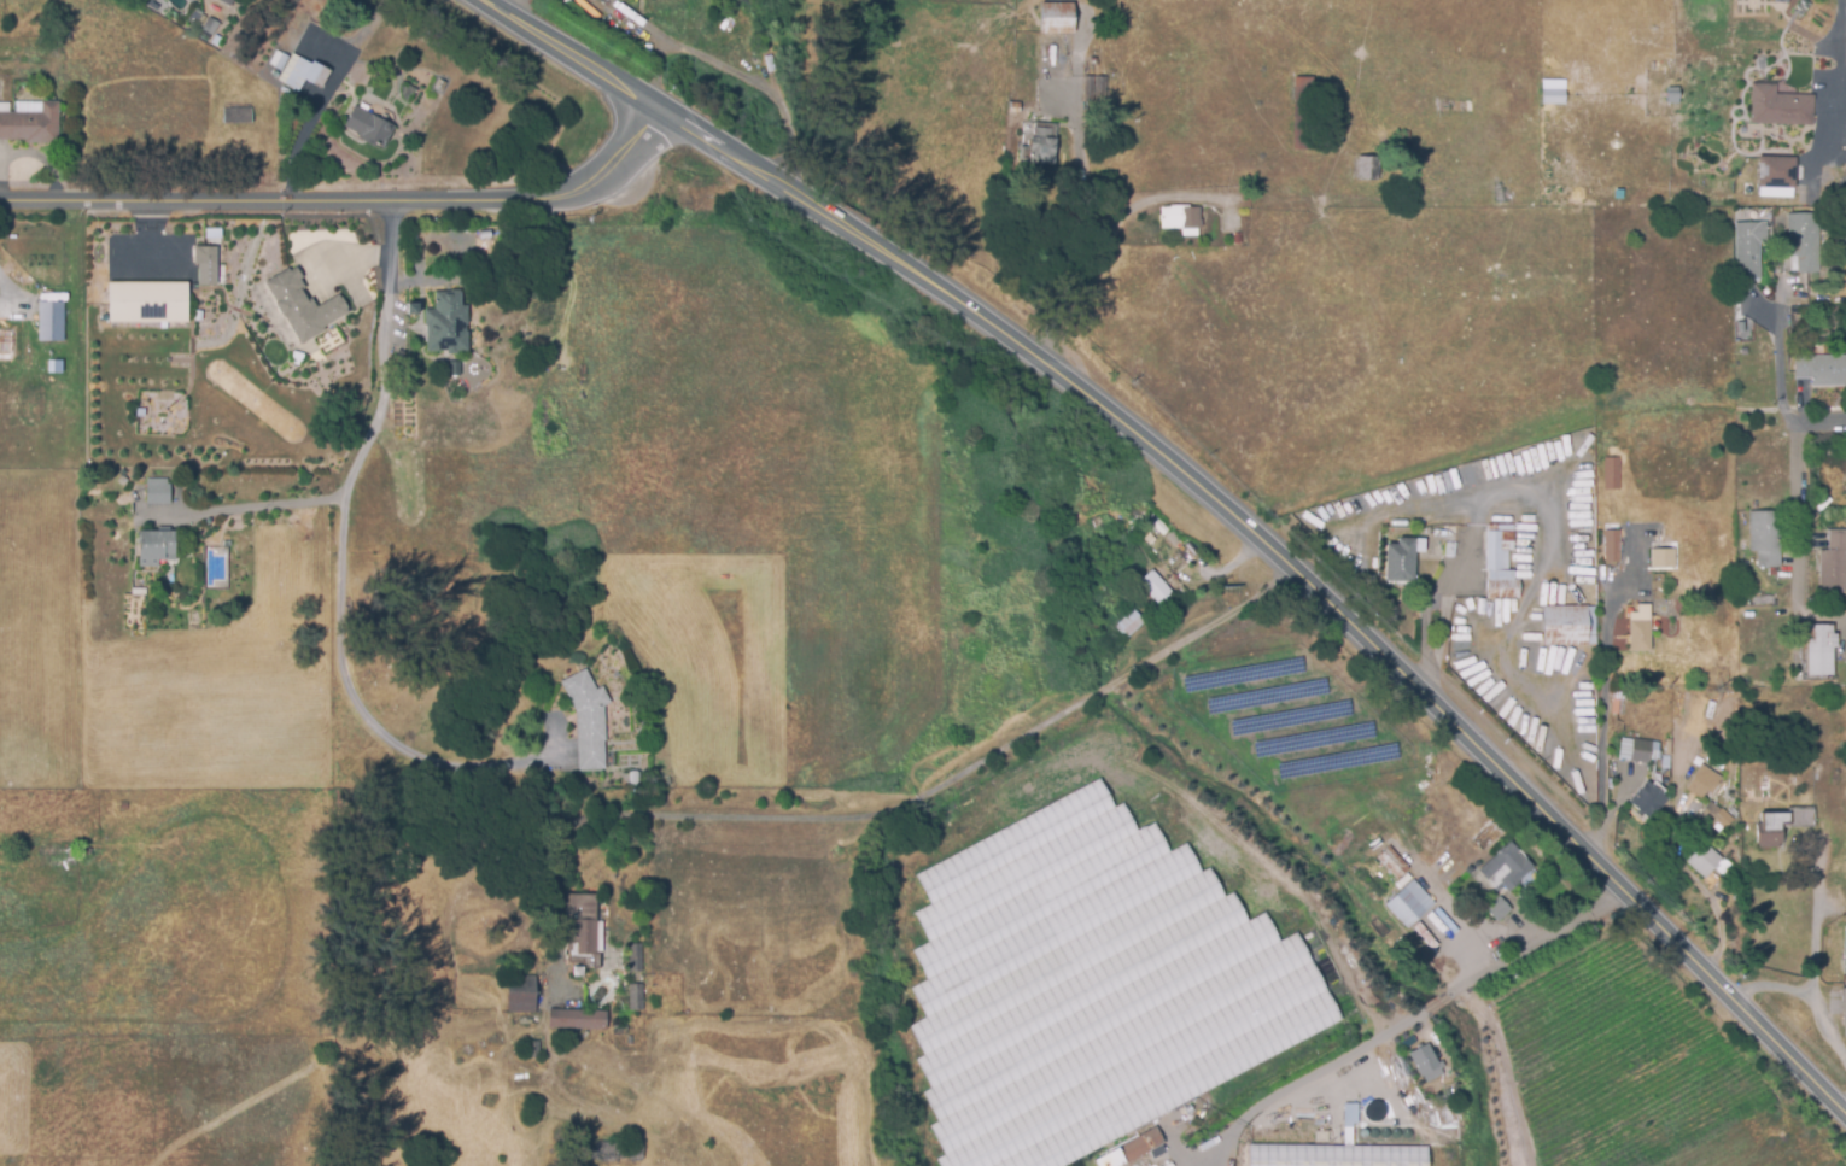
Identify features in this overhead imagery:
building: (748, 1)
building: (227, 2)
building: (151, 4)
building: (197, 16)
building: (1055, 17)
building: (210, 25)
road: (1838, 58)
road: (658, 68)
road: (728, 70)
building: (303, 72)
building: (1094, 87)
building: (1552, 90)
road: (325, 96)
building: (1013, 106)
building: (1780, 107)
building: (1302, 111)
building: (238, 115)
building: (31, 122)
building: (369, 127)
building: (1402, 140)
building: (1039, 143)
building: (1367, 166)
building: (1772, 178)
building: (1801, 197)
road: (349, 203)
building: (1180, 218)
building: (1234, 236)
building: (1804, 241)
building: (1748, 248)
road: (1094, 251)
building: (204, 256)
road: (8, 288)
building: (146, 304)
building: (302, 306)
building: (411, 310)
building: (49, 321)
building: (1793, 323)
building: (446, 324)
building: (1753, 352)
building: (455, 368)
building: (1822, 370)
road: (1778, 374)
road: (1821, 422)
building: (1612, 474)
building: (157, 491)
road: (349, 492)
road: (1507, 493)
road: (1214, 502)
road: (253, 505)
building: (1765, 538)
building: (1170, 540)
building: (1448, 540)
road: (1800, 541)
building: (226, 545)
building: (154, 546)
building: (1612, 550)
building: (1400, 558)
building: (1660, 558)
building: (1499, 561)
building: (1833, 564)
road: (1449, 572)
building: (1153, 585)
building: (1646, 586)
road: (1421, 620)
road: (1442, 621)
building: (1128, 622)
building: (1565, 625)
building: (1636, 629)
building: (1817, 654)
road: (1427, 678)
building: (1616, 704)
building: (589, 719)
road: (1606, 719)
building: (1682, 745)
building: (1637, 750)
road: (997, 755)
building: (1666, 755)
road: (491, 766)
building: (1702, 783)
building: (1647, 801)
building: (1717, 818)
building: (1783, 825)
building: (1704, 860)
building: (1392, 863)
building: (1505, 869)
building: (1407, 906)
building: (1496, 909)
building: (588, 930)
building: (636, 955)
building: (1844, 957)
road: (1813, 973)
building: (1090, 986)
road: (1771, 986)
building: (522, 994)
building: (636, 997)
building: (1845, 1013)
road: (1418, 1016)
building: (579, 1018)
building: (534, 1049)
building: (1423, 1060)
road: (1842, 1103)
building: (1348, 1114)
building: (1131, 1149)
building: (1337, 1155)

